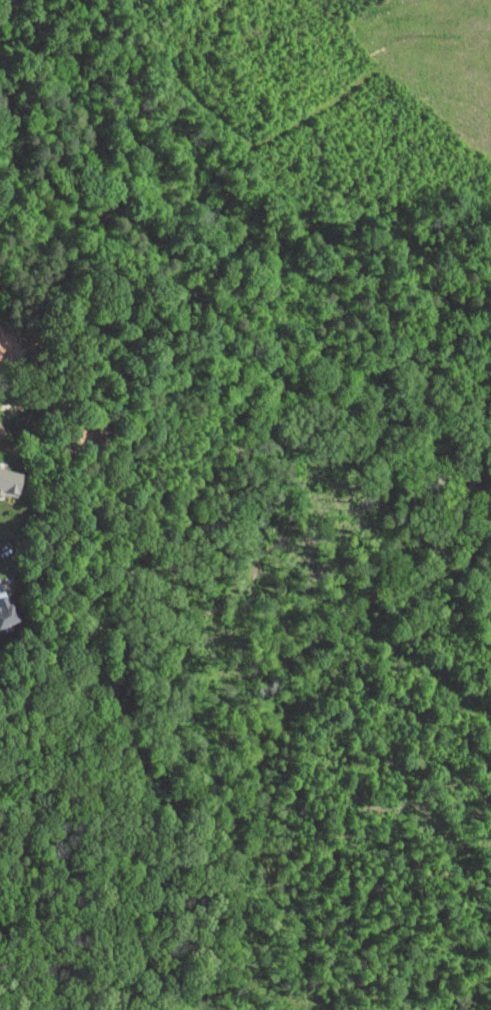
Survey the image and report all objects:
building: (7, 477)
building: (2, 610)

